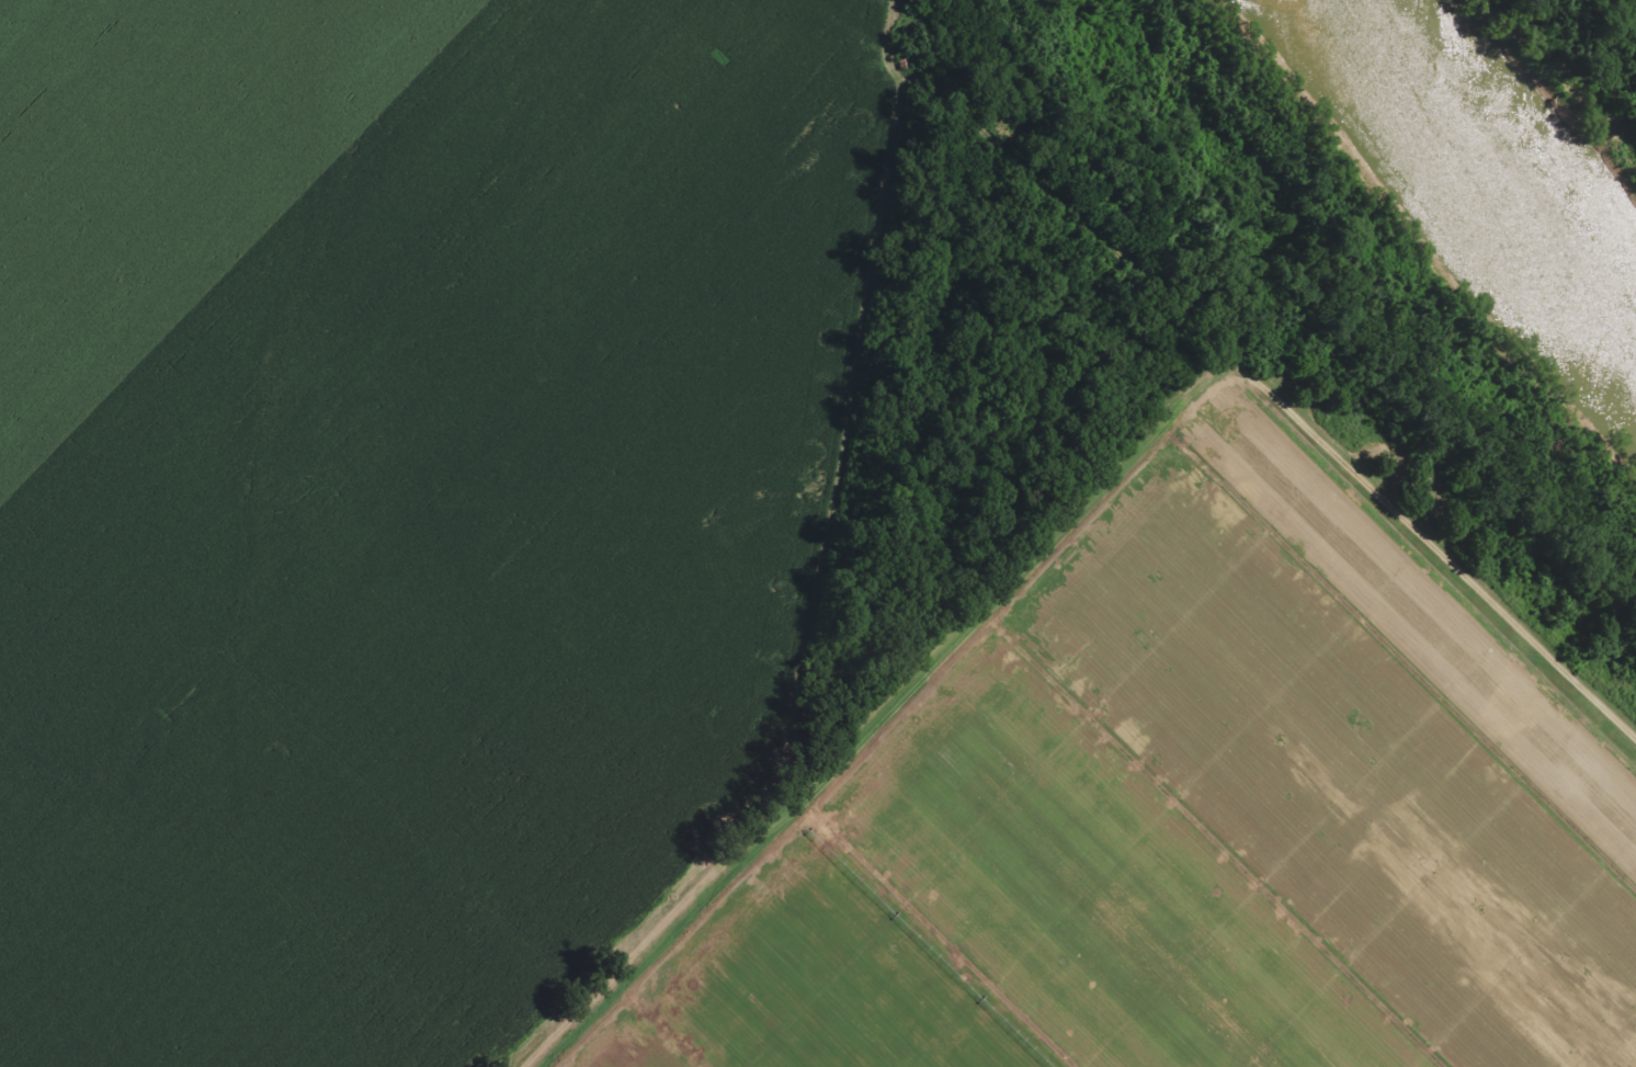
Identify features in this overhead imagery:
river: (1507, 130)

